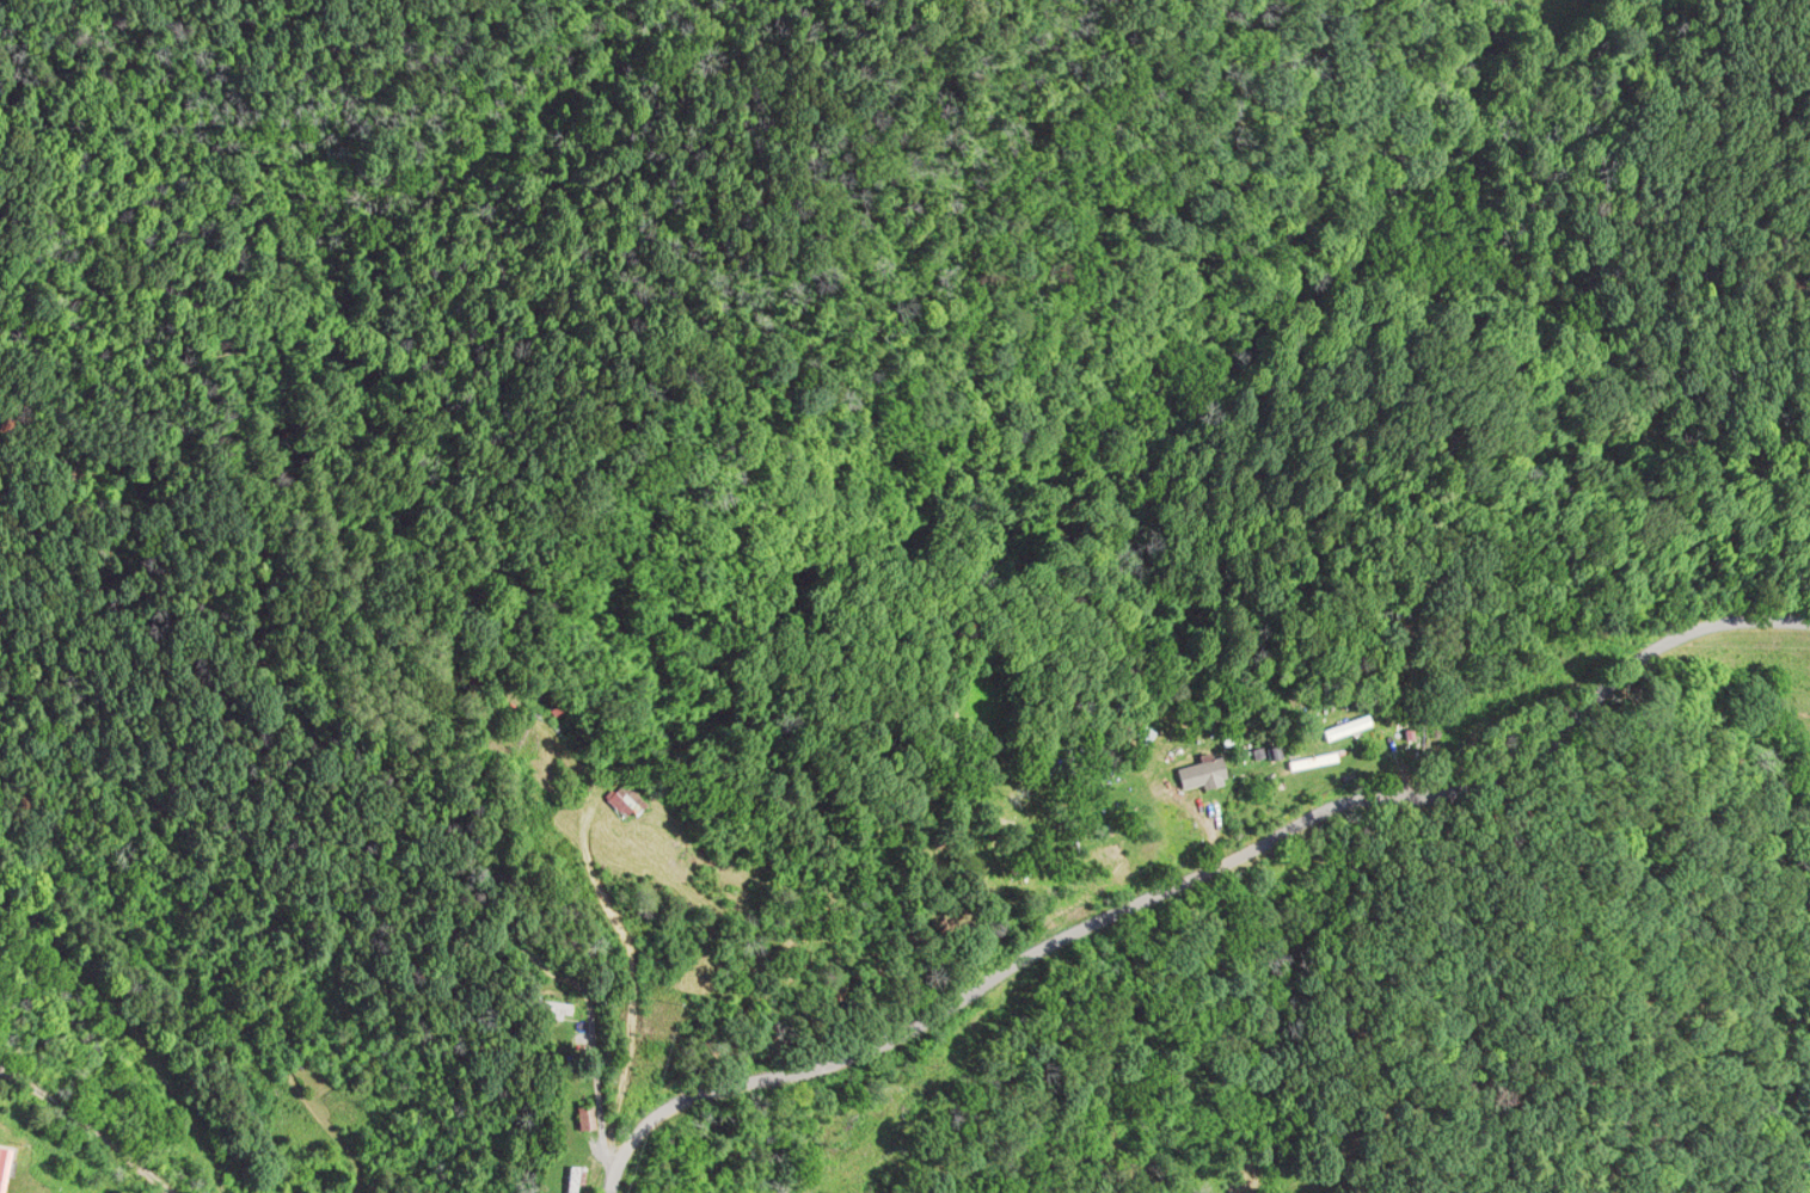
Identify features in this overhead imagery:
building: (1348, 731)
building: (1204, 777)
building: (624, 802)
road: (1195, 871)
building: (544, 1010)
road: (137, 1037)
road: (589, 1101)
building: (584, 1121)
road: (56, 1152)
building: (4, 1169)
building: (573, 1181)

